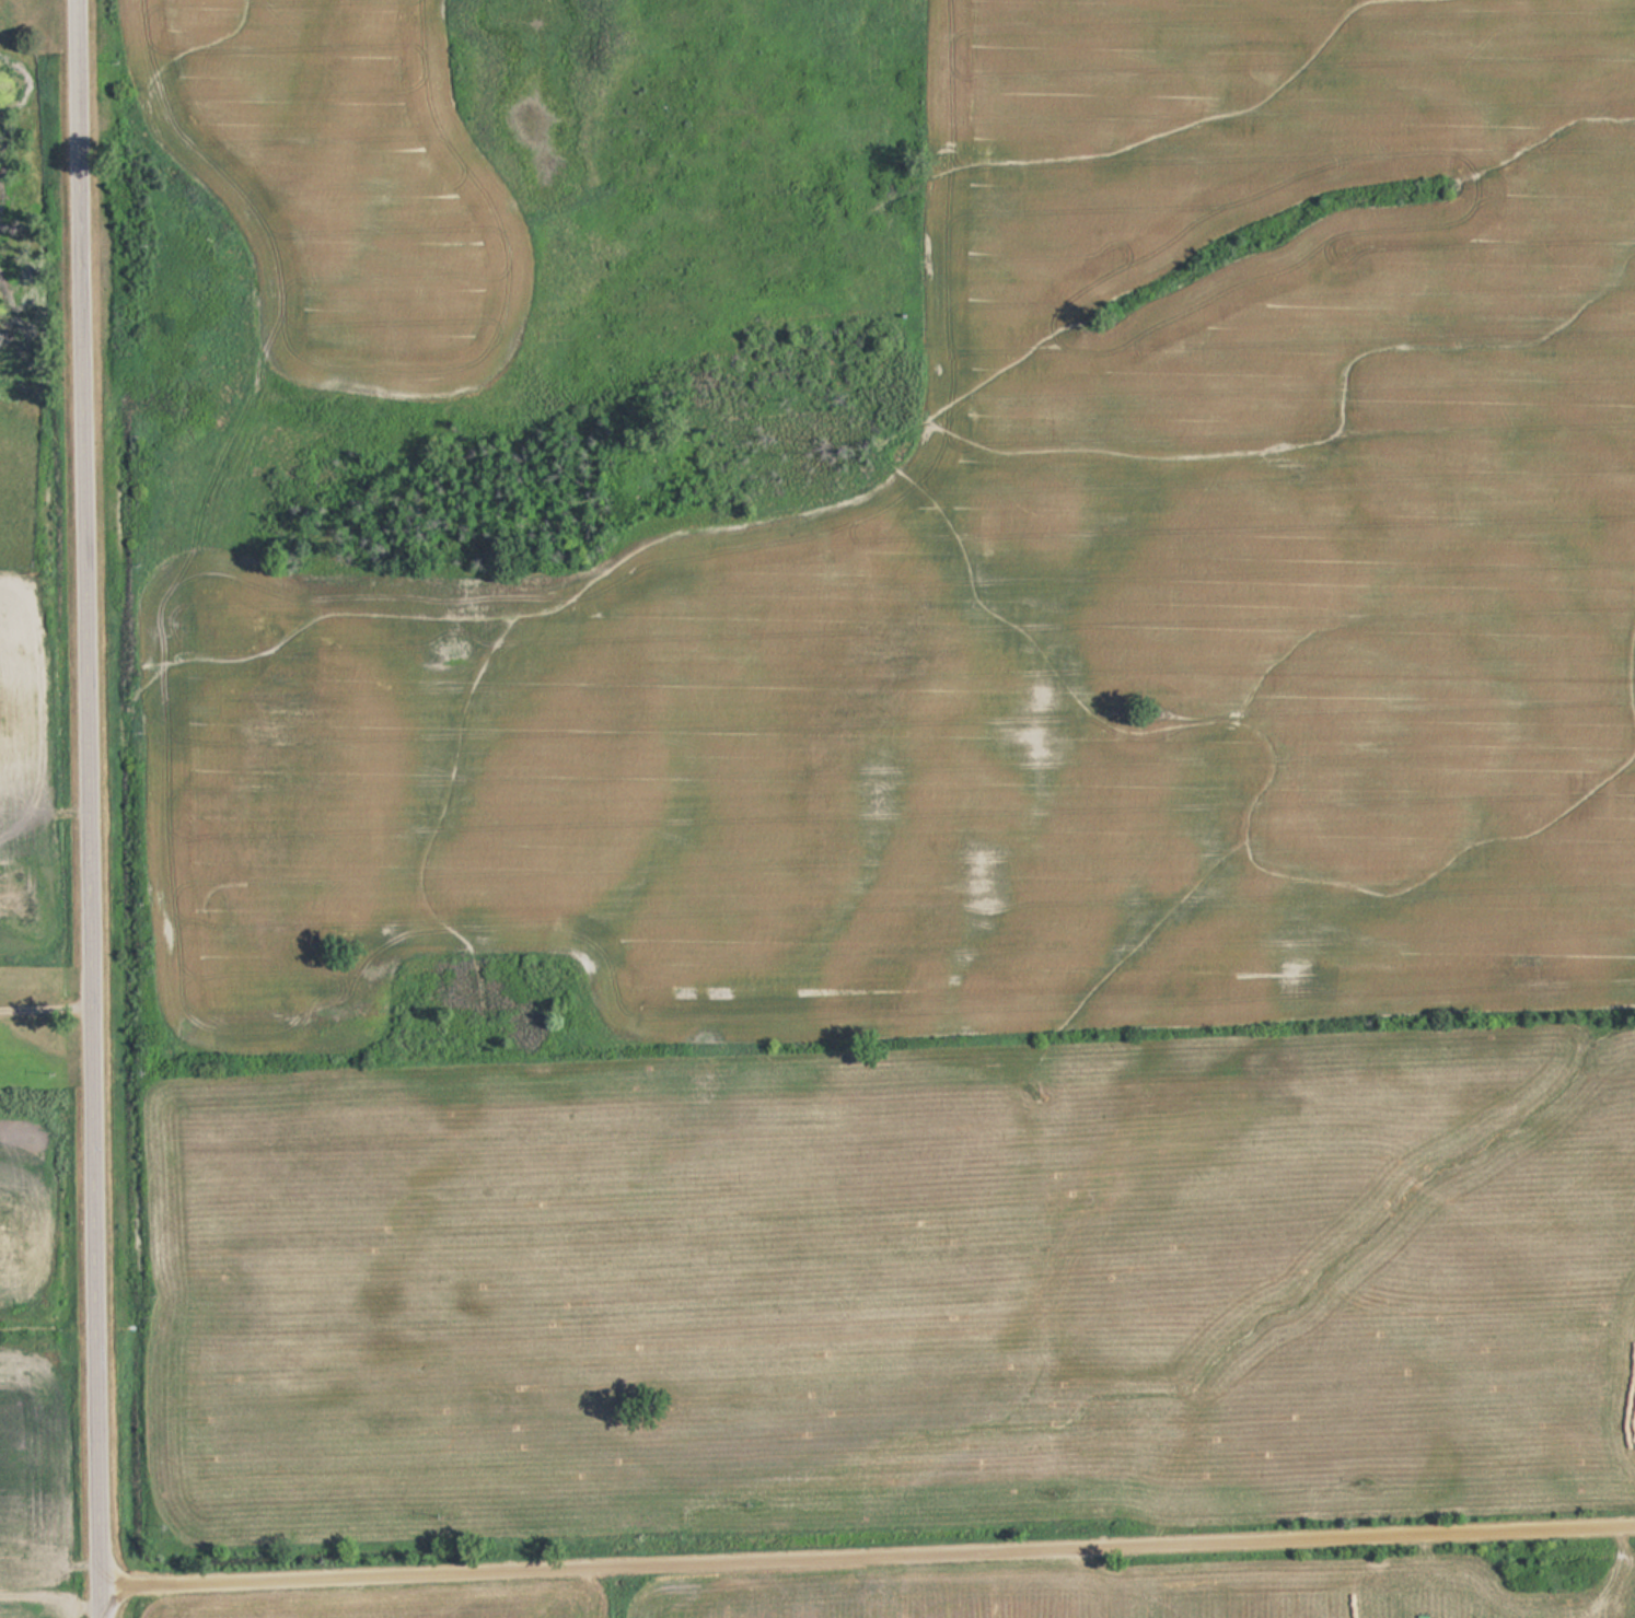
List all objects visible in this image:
road: (90, 808)
road: (867, 1559)

